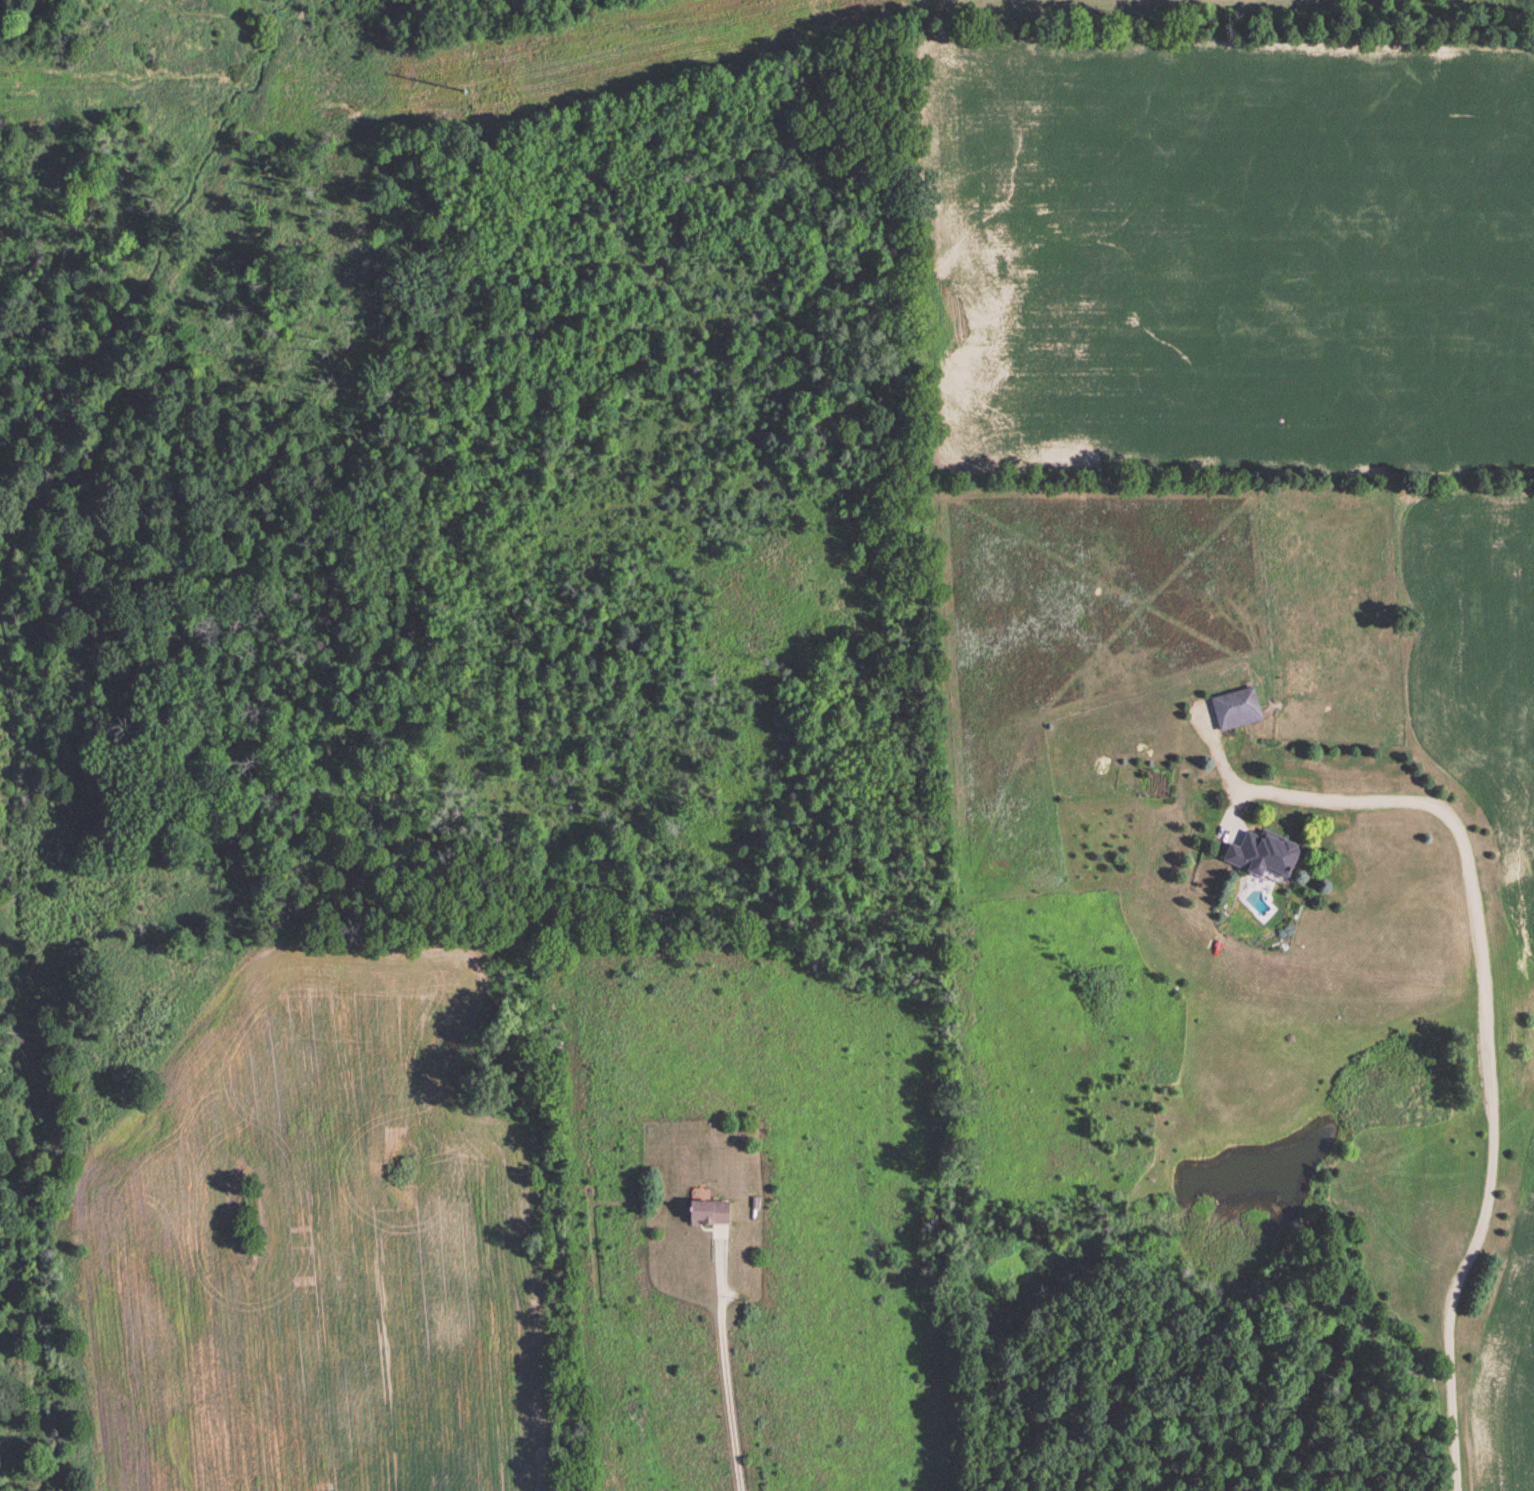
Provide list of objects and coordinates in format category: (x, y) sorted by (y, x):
power tower: (471, 93)
crop: (1239, 250)
crop: (1478, 666)
building: (1237, 707)
building: (1265, 853)
road: (1489, 1060)
road: (578, 1173)
building: (755, 1200)
building: (711, 1208)
crop: (317, 1245)
crop: (1510, 1344)
road: (724, 1364)

